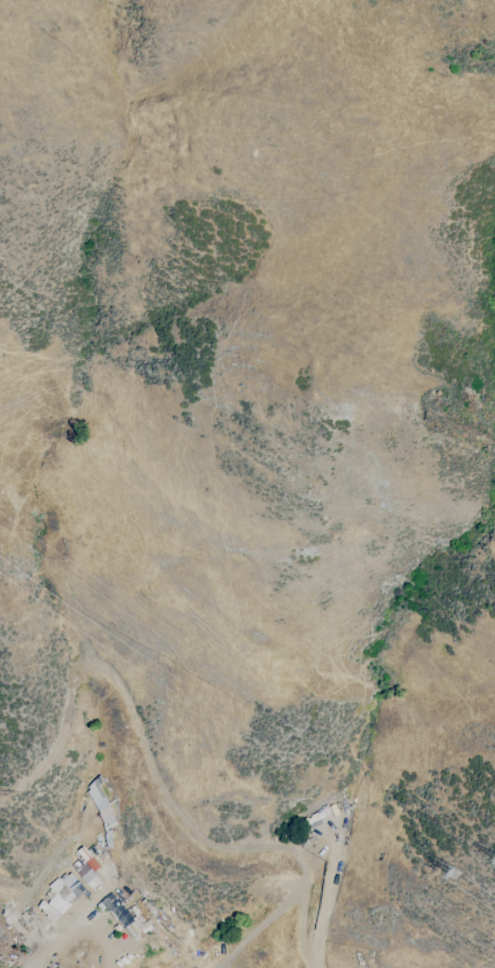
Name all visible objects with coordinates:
building: (96, 794)
building: (86, 871)
power tower: (454, 873)
building: (60, 895)
building: (106, 896)
building: (124, 916)

